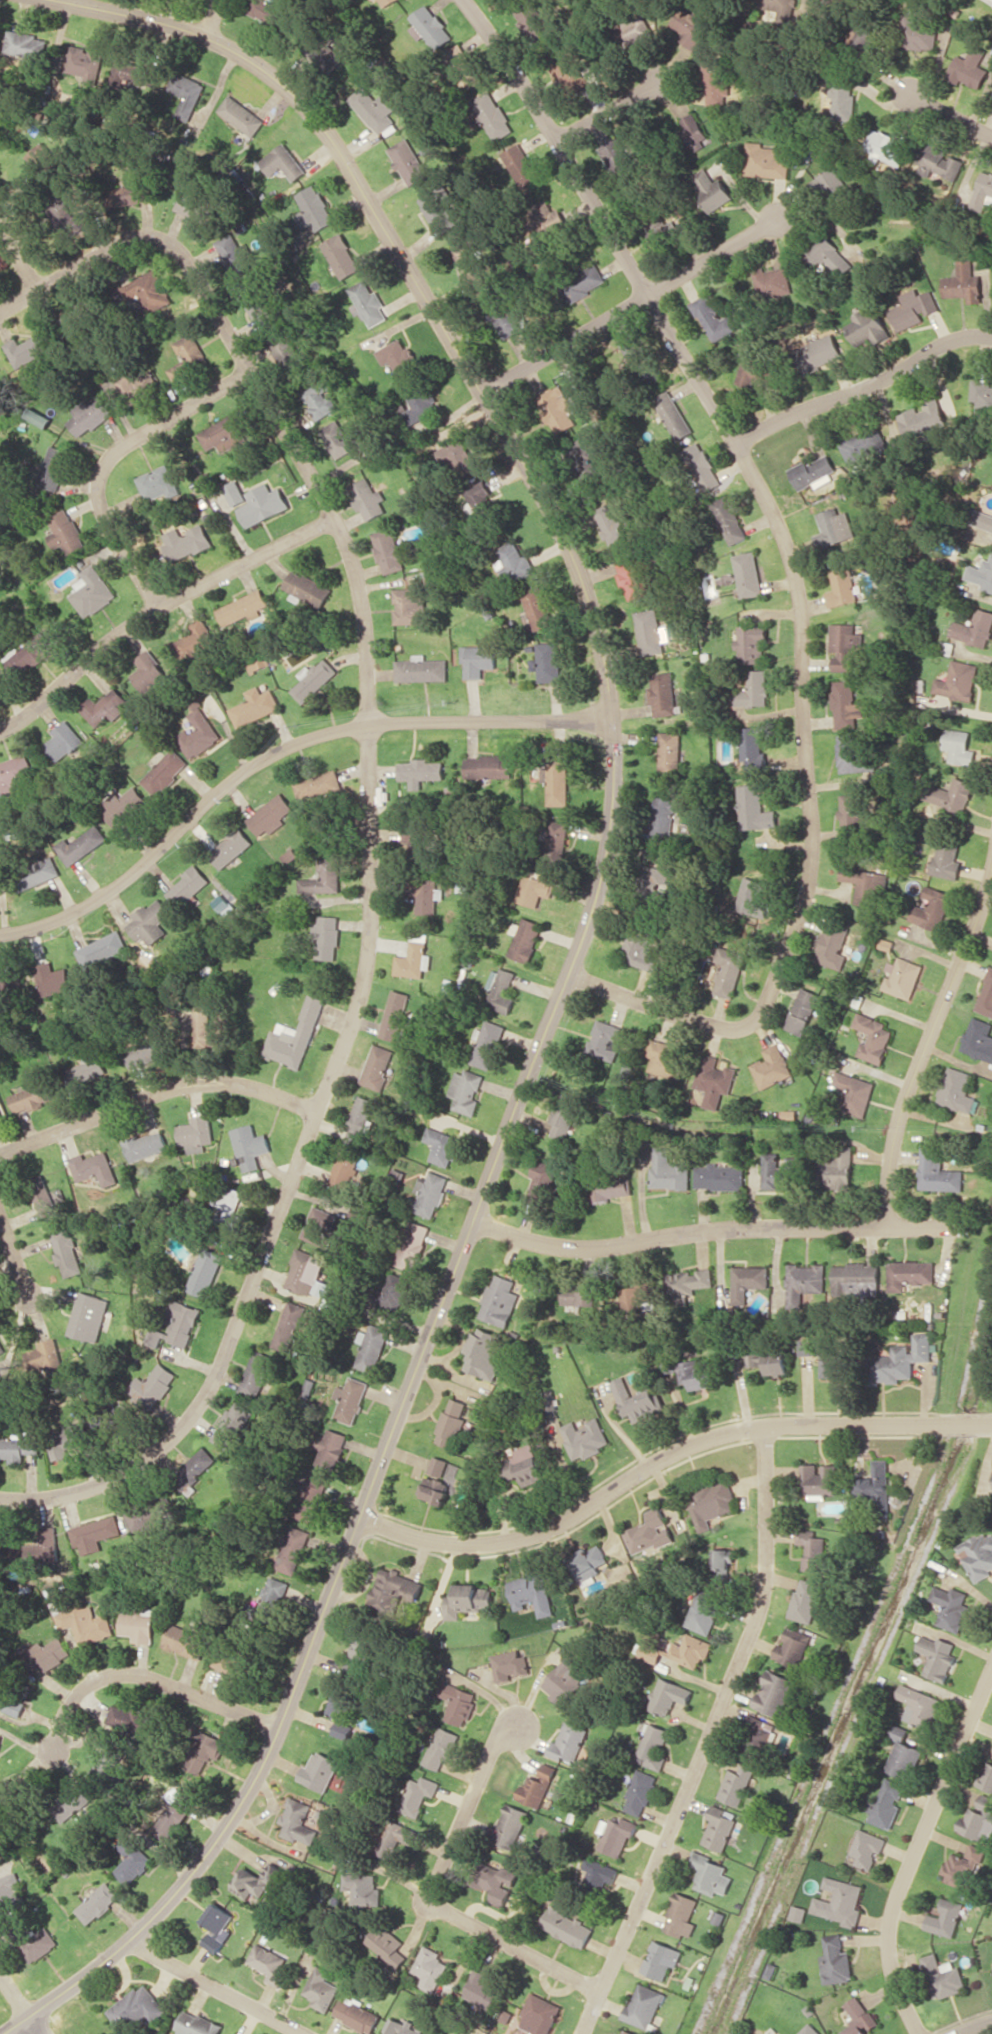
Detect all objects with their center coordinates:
building: (991, 0)
building: (386, 2)
building: (269, 9)
building: (787, 10)
road: (213, 19)
building: (537, 23)
building: (432, 26)
building: (692, 26)
building: (919, 32)
building: (861, 38)
building: (22, 43)
building: (83, 61)
building: (463, 66)
building: (970, 67)
building: (568, 70)
building: (716, 81)
building: (188, 96)
building: (844, 100)
road: (607, 109)
building: (493, 114)
building: (241, 115)
road: (949, 115)
building: (695, 130)
building: (886, 147)
building: (617, 156)
building: (41, 157)
building: (409, 161)
building: (766, 161)
building: (941, 161)
building: (283, 162)
building: (521, 164)
building: (833, 185)
building: (712, 189)
building: (983, 191)
building: (132, 192)
building: (195, 206)
building: (317, 207)
building: (438, 209)
building: (549, 217)
building: (73, 218)
building: (669, 229)
building: (343, 255)
building: (829, 255)
road: (18, 256)
building: (235, 256)
building: (469, 259)
building: (585, 281)
building: (775, 281)
building: (963, 283)
building: (153, 288)
road: (630, 302)
building: (368, 303)
building: (913, 308)
building: (75, 318)
building: (714, 318)
building: (508, 323)
building: (868, 326)
building: (284, 348)
building: (27, 349)
building: (819, 352)
building: (188, 355)
building: (398, 356)
building: (757, 374)
road: (862, 384)
building: (138, 387)
building: (982, 394)
building: (320, 397)
building: (422, 403)
building: (557, 408)
building: (673, 414)
building: (89, 416)
building: (923, 417)
building: (225, 433)
building: (865, 443)
building: (458, 455)
road: (108, 458)
building: (54, 467)
building: (703, 467)
building: (812, 472)
building: (159, 483)
building: (237, 492)
building: (480, 494)
building: (369, 497)
building: (264, 504)
building: (982, 519)
building: (731, 520)
building: (612, 523)
building: (835, 529)
building: (66, 531)
building: (186, 542)
building: (388, 550)
building: (516, 560)
road: (792, 568)
building: (749, 573)
building: (981, 573)
building: (0, 574)
building: (633, 577)
building: (304, 586)
building: (842, 586)
building: (91, 591)
building: (411, 605)
building: (242, 607)
building: (539, 607)
road: (156, 608)
building: (974, 628)
building: (650, 631)
building: (196, 639)
building: (752, 644)
building: (845, 644)
building: (29, 654)
building: (478, 659)
building: (549, 661)
building: (422, 669)
building: (147, 670)
building: (313, 679)
building: (959, 680)
building: (754, 690)
building: (663, 693)
building: (846, 704)
building: (104, 706)
building: (254, 706)
building: (198, 733)
building: (63, 741)
building: (959, 746)
building: (754, 749)
road: (277, 751)
building: (852, 752)
building: (671, 753)
building: (489, 766)
building: (13, 771)
building: (164, 771)
building: (419, 771)
building: (557, 781)
building: (317, 785)
building: (954, 795)
building: (124, 806)
building: (755, 808)
building: (270, 815)
building: (852, 816)
building: (665, 818)
road: (368, 834)
building: (555, 842)
building: (81, 844)
building: (231, 848)
building: (947, 860)
building: (36, 873)
building: (323, 877)
building: (866, 883)
building: (655, 884)
building: (188, 886)
building: (534, 889)
building: (426, 895)
building: (753, 895)
building: (932, 908)
building: (150, 922)
building: (326, 937)
building: (524, 939)
building: (833, 946)
building: (102, 949)
building: (640, 949)
building: (415, 958)
building: (730, 971)
road: (568, 975)
building: (903, 977)
building: (51, 978)
building: (10, 980)
building: (502, 991)
building: (986, 997)
building: (802, 1011)
building: (394, 1014)
building: (207, 1028)
building: (293, 1036)
building: (874, 1037)
building: (979, 1039)
building: (605, 1040)
building: (488, 1044)
road: (929, 1044)
building: (146, 1050)
building: (663, 1058)
building: (377, 1066)
building: (772, 1066)
building: (84, 1072)
building: (715, 1080)
building: (958, 1089)
building: (466, 1090)
road: (157, 1092)
building: (855, 1093)
building: (31, 1097)
building: (2, 1113)
building: (565, 1114)
building: (360, 1118)
building: (196, 1133)
building: (146, 1145)
building: (250, 1146)
building: (442, 1146)
building: (93, 1167)
building: (344, 1167)
building: (839, 1168)
building: (669, 1170)
building: (780, 1171)
building: (938, 1172)
building: (720, 1176)
building: (545, 1183)
building: (610, 1189)
building: (42, 1194)
building: (428, 1194)
building: (227, 1207)
building: (319, 1225)
road: (717, 1228)
building: (412, 1245)
building: (68, 1251)
road: (18, 1253)
building: (207, 1271)
building: (911, 1273)
building: (857, 1278)
building: (690, 1281)
building: (748, 1281)
building: (803, 1281)
building: (395, 1289)
building: (580, 1293)
building: (638, 1294)
building: (500, 1300)
building: (90, 1316)
building: (178, 1326)
building: (289, 1326)
building: (806, 1346)
building: (372, 1348)
building: (47, 1353)
building: (483, 1353)
building: (903, 1359)
building: (770, 1361)
building: (834, 1364)
building: (257, 1374)
building: (698, 1374)
building: (155, 1384)
building: (350, 1399)
building: (636, 1400)
building: (124, 1408)
building: (453, 1423)
building: (232, 1425)
building: (585, 1438)
building: (18, 1448)
building: (333, 1449)
road: (667, 1459)
building: (525, 1464)
building: (197, 1465)
building: (439, 1466)
building: (820, 1479)
building: (875, 1488)
building: (436, 1489)
building: (310, 1500)
building: (719, 1500)
building: (134, 1520)
building: (649, 1532)
building: (94, 1534)
building: (47, 1546)
building: (292, 1549)
building: (812, 1549)
building: (978, 1554)
building: (592, 1562)
building: (722, 1564)
building: (394, 1589)
building: (532, 1592)
building: (469, 1600)
building: (805, 1600)
building: (268, 1601)
building: (950, 1607)
building: (703, 1614)
building: (85, 1623)
building: (138, 1625)
building: (190, 1639)
building: (793, 1647)
building: (363, 1649)
building: (48, 1653)
building: (936, 1657)
building: (225, 1662)
building: (510, 1665)
road: (150, 1677)
building: (566, 1680)
building: (774, 1693)
building: (668, 1696)
building: (458, 1703)
building: (11, 1705)
building: (918, 1705)
building: (341, 1713)
building: (131, 1718)
road: (711, 1735)
building: (0, 1737)
building: (756, 1737)
building: (568, 1742)
building: (652, 1746)
building: (442, 1747)
building: (204, 1749)
building: (902, 1752)
building: (103, 1769)
building: (318, 1771)
building: (986, 1776)
building: (734, 1784)
building: (538, 1785)
building: (638, 1792)
building: (419, 1794)
building: (68, 1803)
building: (885, 1804)
building: (172, 1813)
building: (977, 1820)
building: (297, 1822)
building: (512, 1827)
building: (717, 1827)
building: (615, 1835)
building: (394, 1837)
building: (865, 1848)
road: (915, 1849)
building: (131, 1860)
building: (962, 1868)
building: (708, 1874)
building: (598, 1875)
building: (259, 1879)
building: (497, 1884)
building: (362, 1887)
building: (9, 1892)
road: (430, 1897)
building: (838, 1901)
building: (97, 1902)
building: (797, 1912)
building: (679, 1915)
building: (944, 1918)
building: (566, 1926)
building: (217, 1927)
building: (39, 1945)
building: (387, 1945)
building: (660, 1959)
building: (835, 1960)
building: (269, 1962)
building: (430, 1967)
building: (943, 1975)
building: (321, 1988)
building: (482, 1988)
road: (215, 1989)
road: (13, 1997)
building: (643, 2005)
building: (138, 2006)
building: (357, 2015)
building: (858, 2018)
building: (197, 2024)
road: (32, 2025)
building: (404, 2027)
building: (808, 2029)
road: (978, 2029)
building: (628, 2032)
building: (237, 2033)

